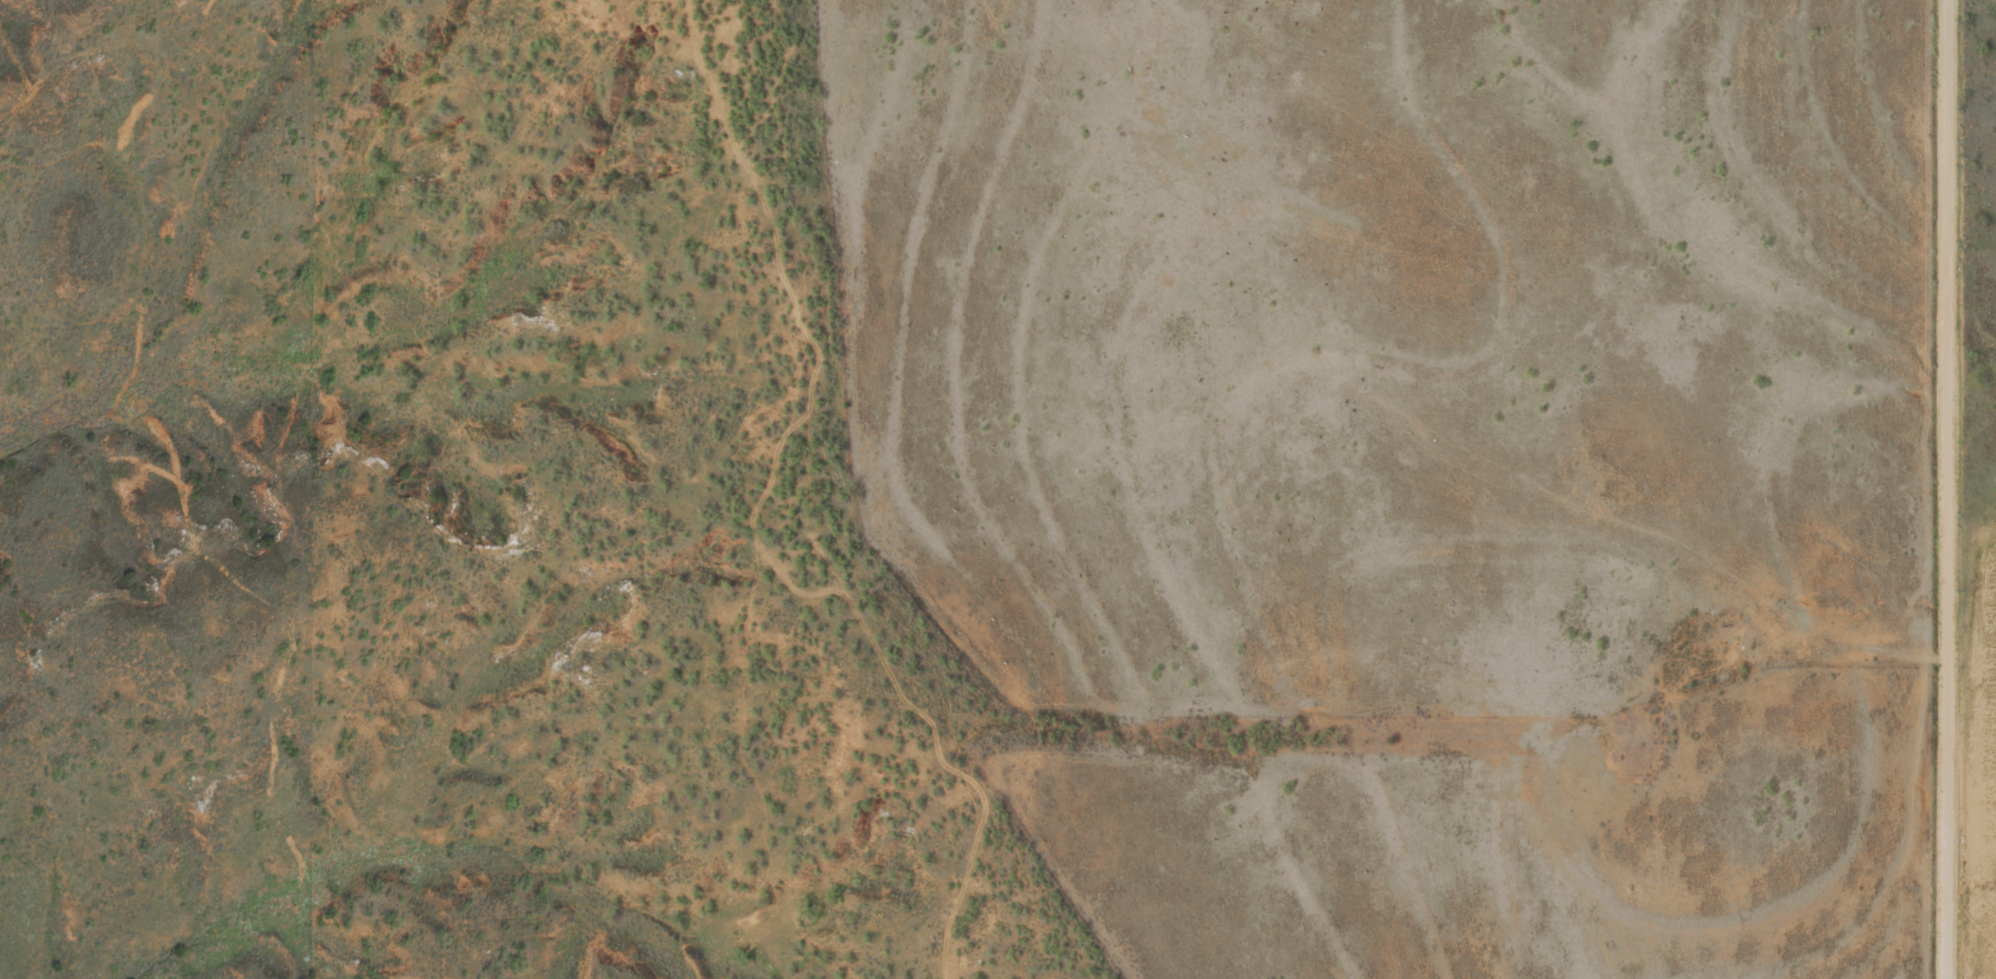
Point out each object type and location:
road: (1947, 489)

